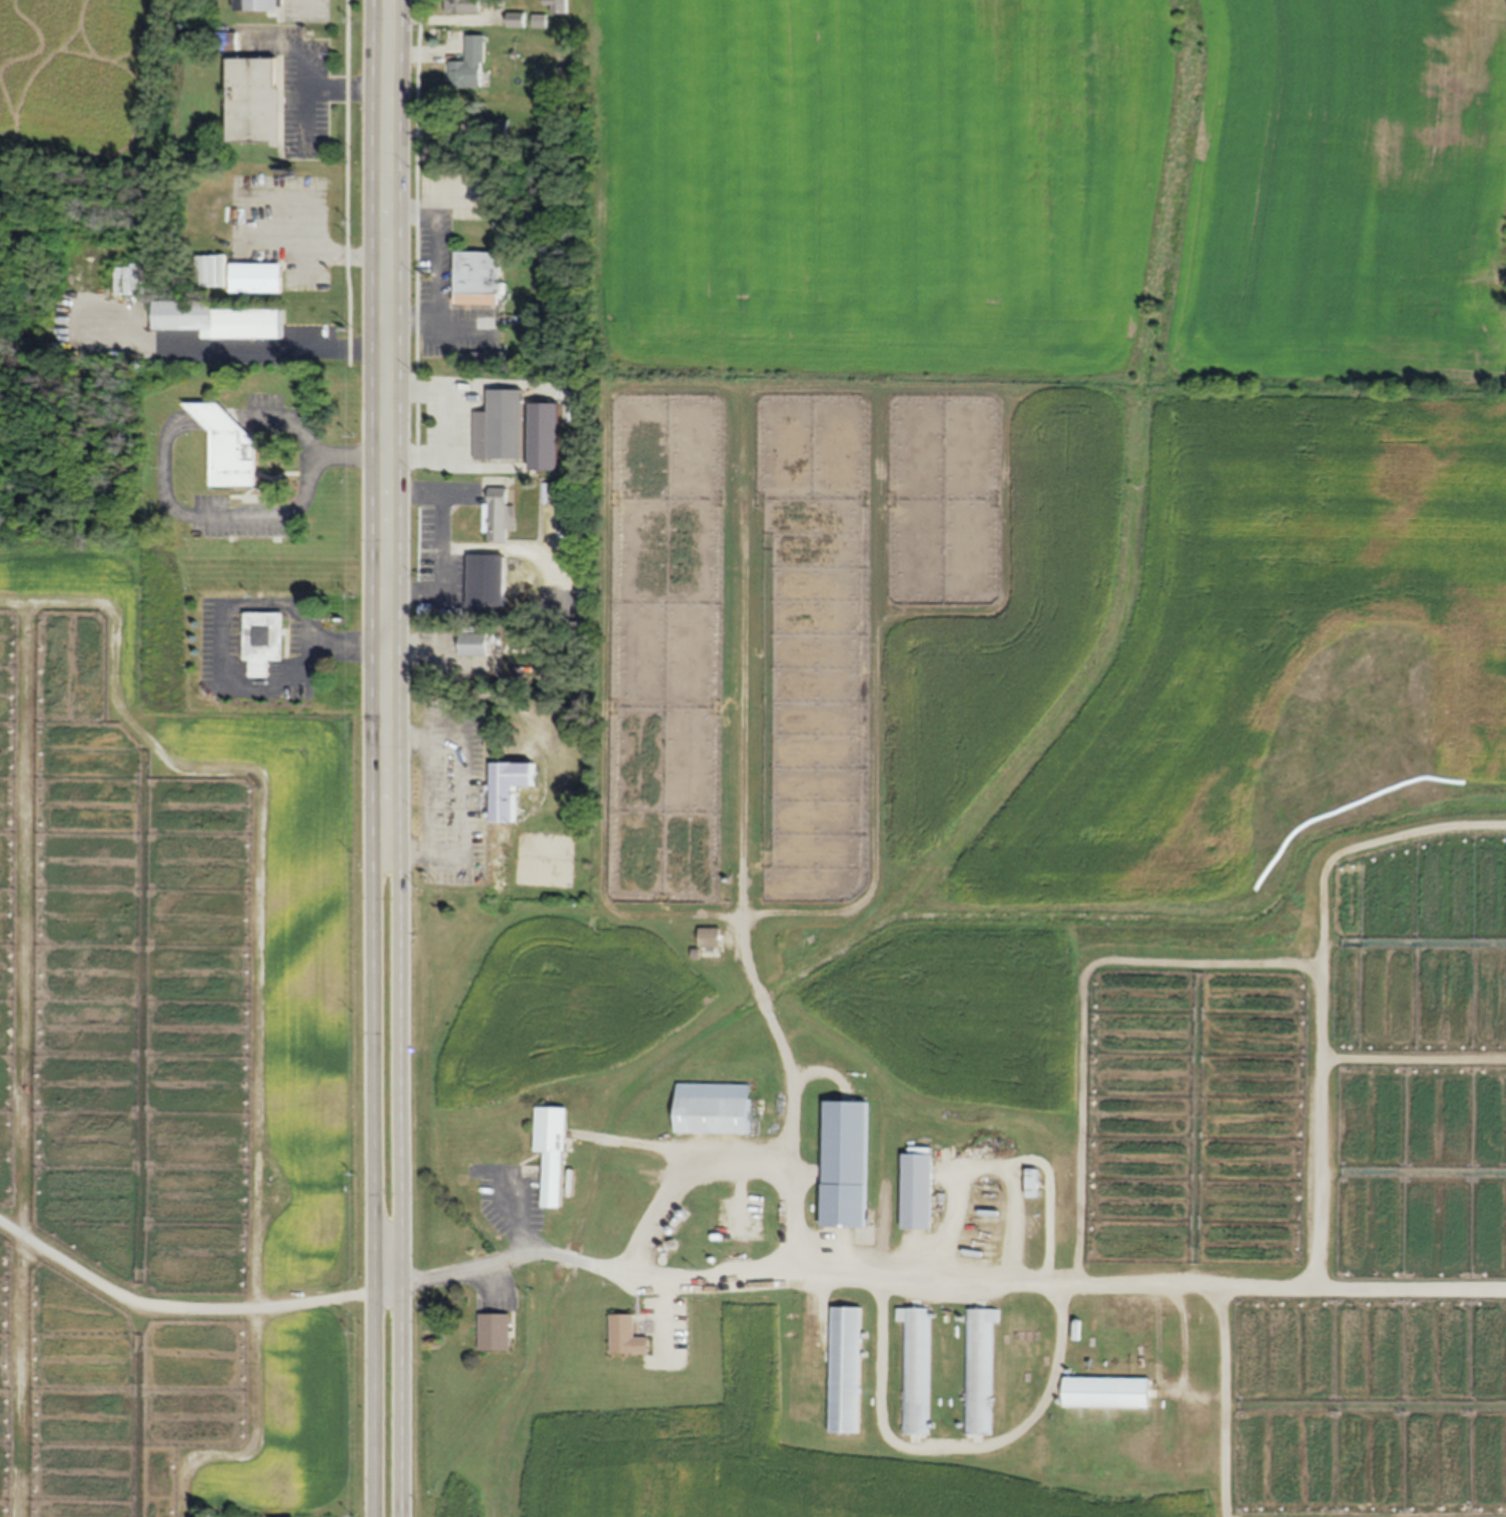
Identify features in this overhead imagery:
building: (260, 5)
building: (461, 6)
building: (515, 18)
building: (468, 66)
crop: (80, 86)
building: (255, 100)
park: (1186, 144)
building: (478, 277)
building: (257, 278)
road: (382, 288)
building: (225, 321)
building: (488, 357)
road: (447, 421)
building: (500, 426)
building: (546, 437)
building: (229, 447)
building: (561, 488)
building: (500, 514)
building: (488, 580)
building: (264, 641)
building: (476, 645)
crop: (1046, 726)
building: (509, 787)
building: (710, 936)
road: (373, 1046)
road: (402, 1046)
crop: (173, 1065)
building: (713, 1108)
building: (553, 1152)
building: (844, 1163)
building: (1031, 1184)
building: (917, 1190)
road: (518, 1216)
road: (953, 1280)
road: (388, 1281)
road: (175, 1304)
building: (496, 1332)
building: (628, 1334)
building: (846, 1369)
building: (915, 1369)
building: (979, 1369)
building: (1106, 1393)

